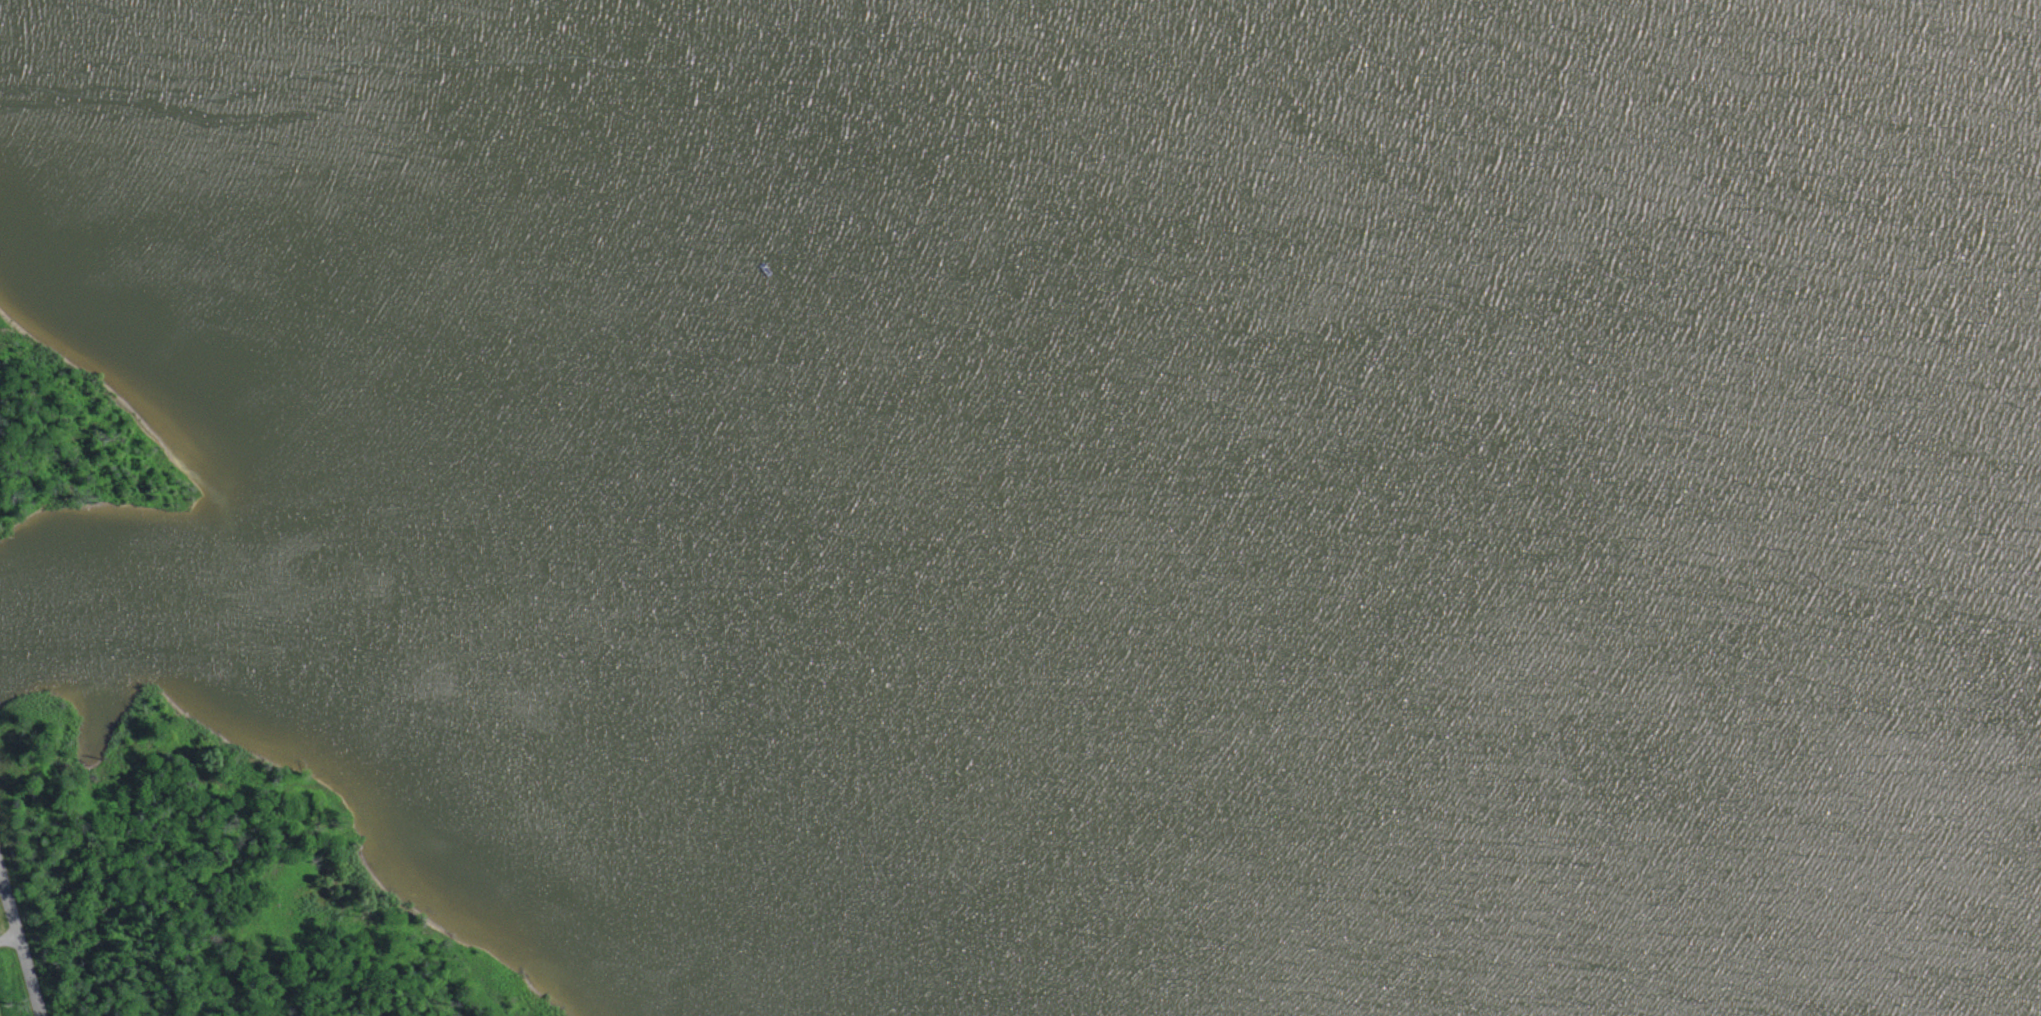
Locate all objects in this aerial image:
river: (1894, 132)
road: (8, 936)
road: (19, 944)

